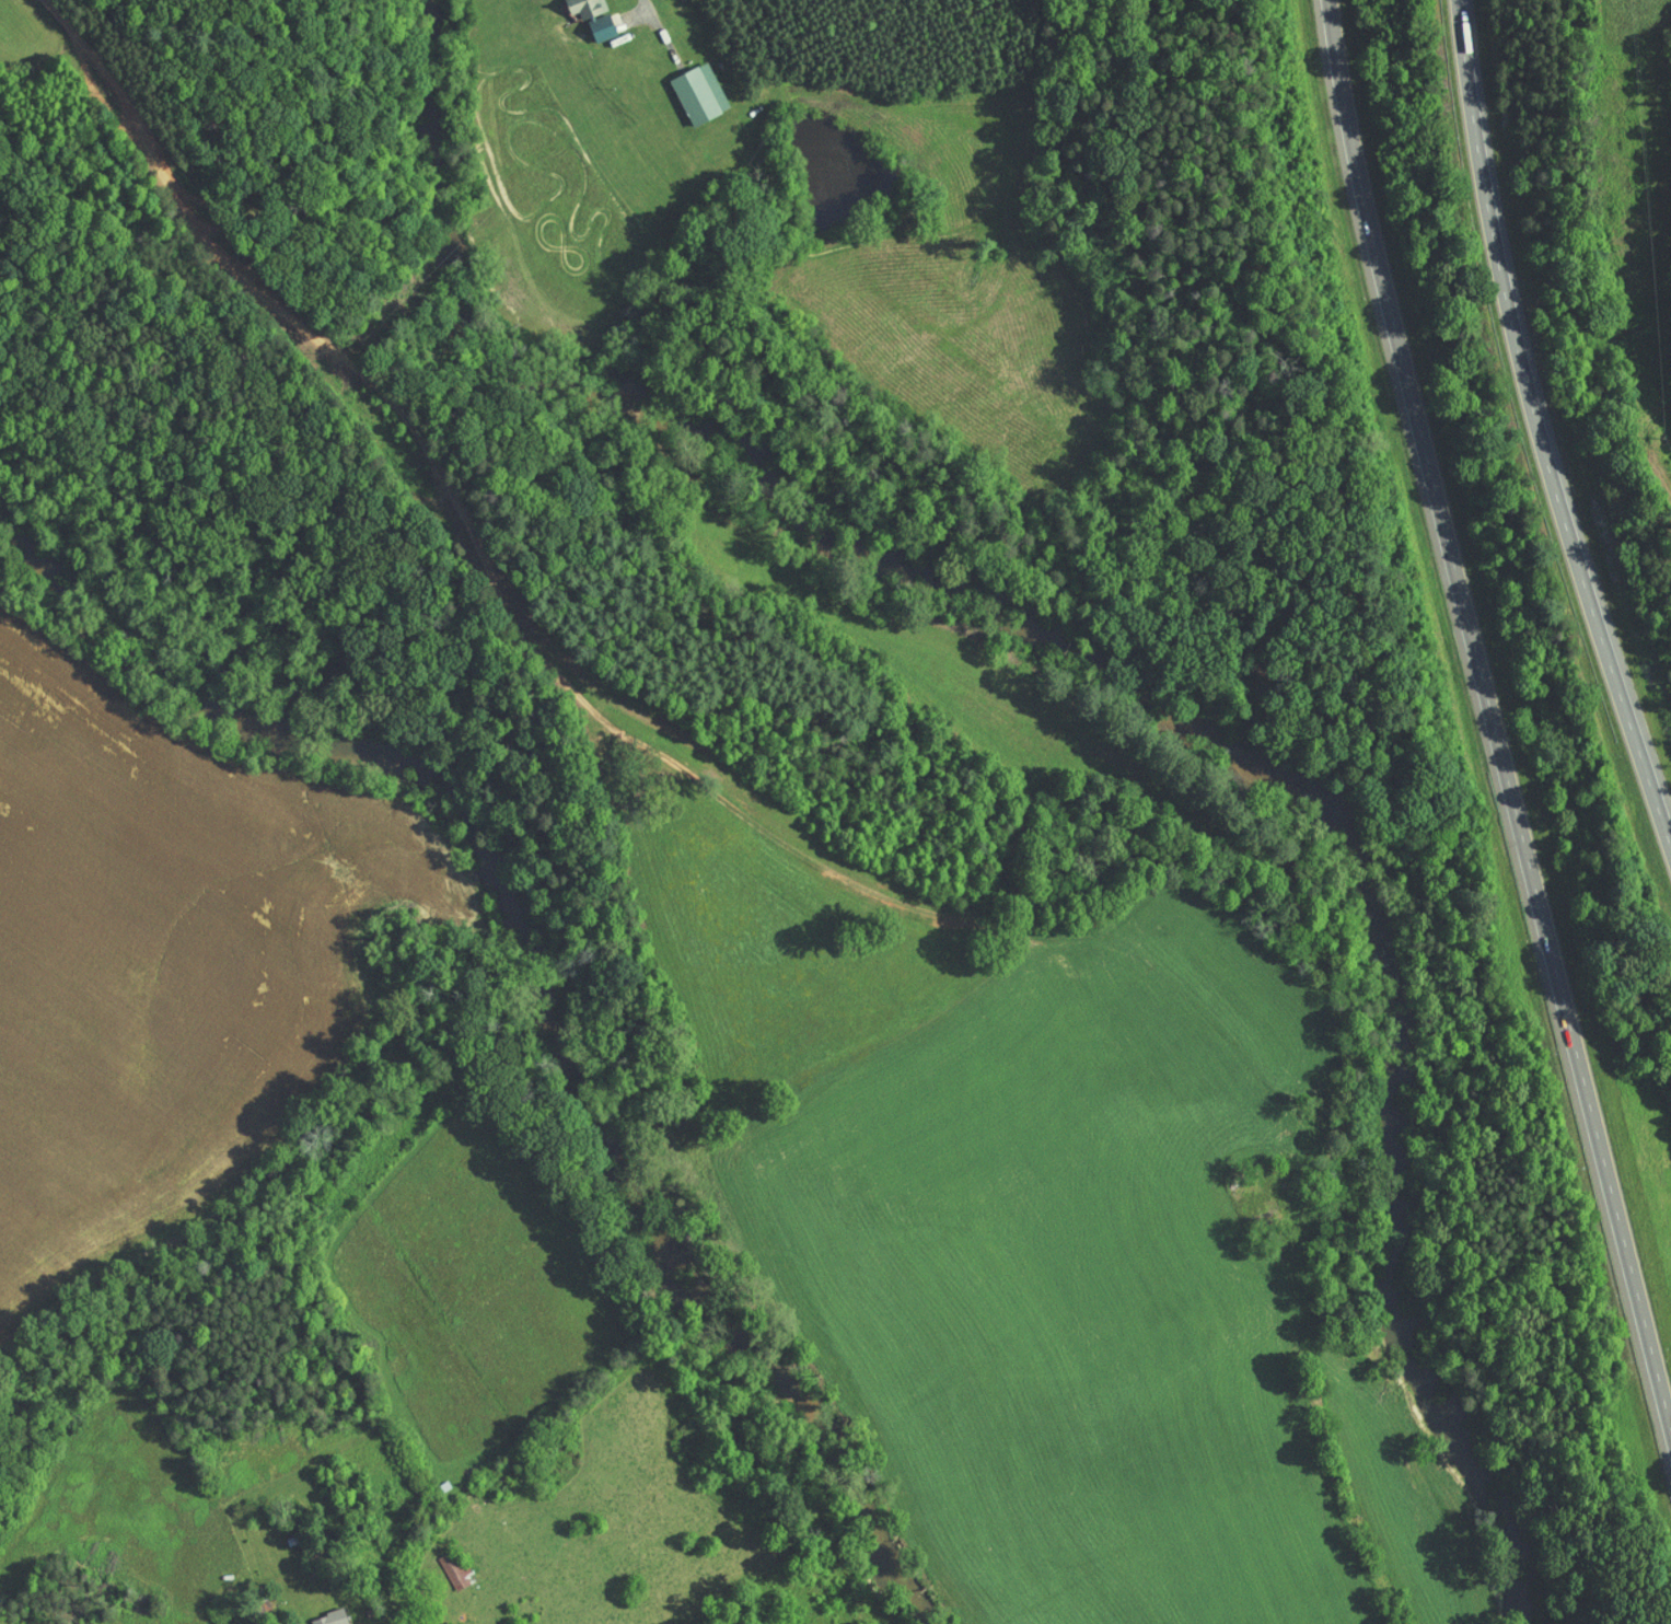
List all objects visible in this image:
building: (570, 4)
building: (585, 22)
building: (684, 88)
river: (661, 417)
road: (1539, 429)
road: (544, 640)
road: (1483, 700)
river: (1212, 742)
river: (544, 989)
river: (1384, 1169)
building: (443, 1564)
building: (314, 1614)

